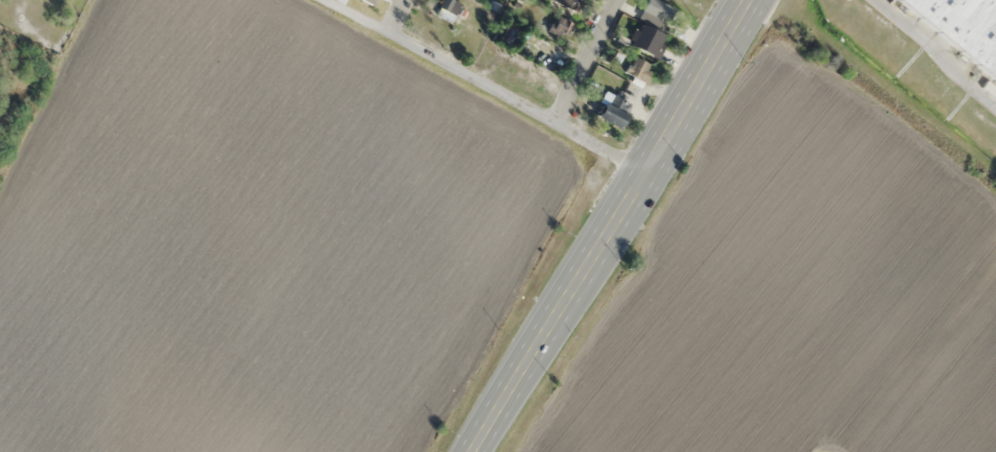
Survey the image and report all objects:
building: (372, 0)
building: (570, 4)
building: (450, 6)
building: (656, 12)
road: (398, 15)
building: (964, 25)
building: (560, 26)
building: (501, 33)
building: (646, 40)
road: (939, 49)
road: (589, 60)
building: (639, 70)
road: (491, 84)
building: (613, 110)
road: (615, 227)

